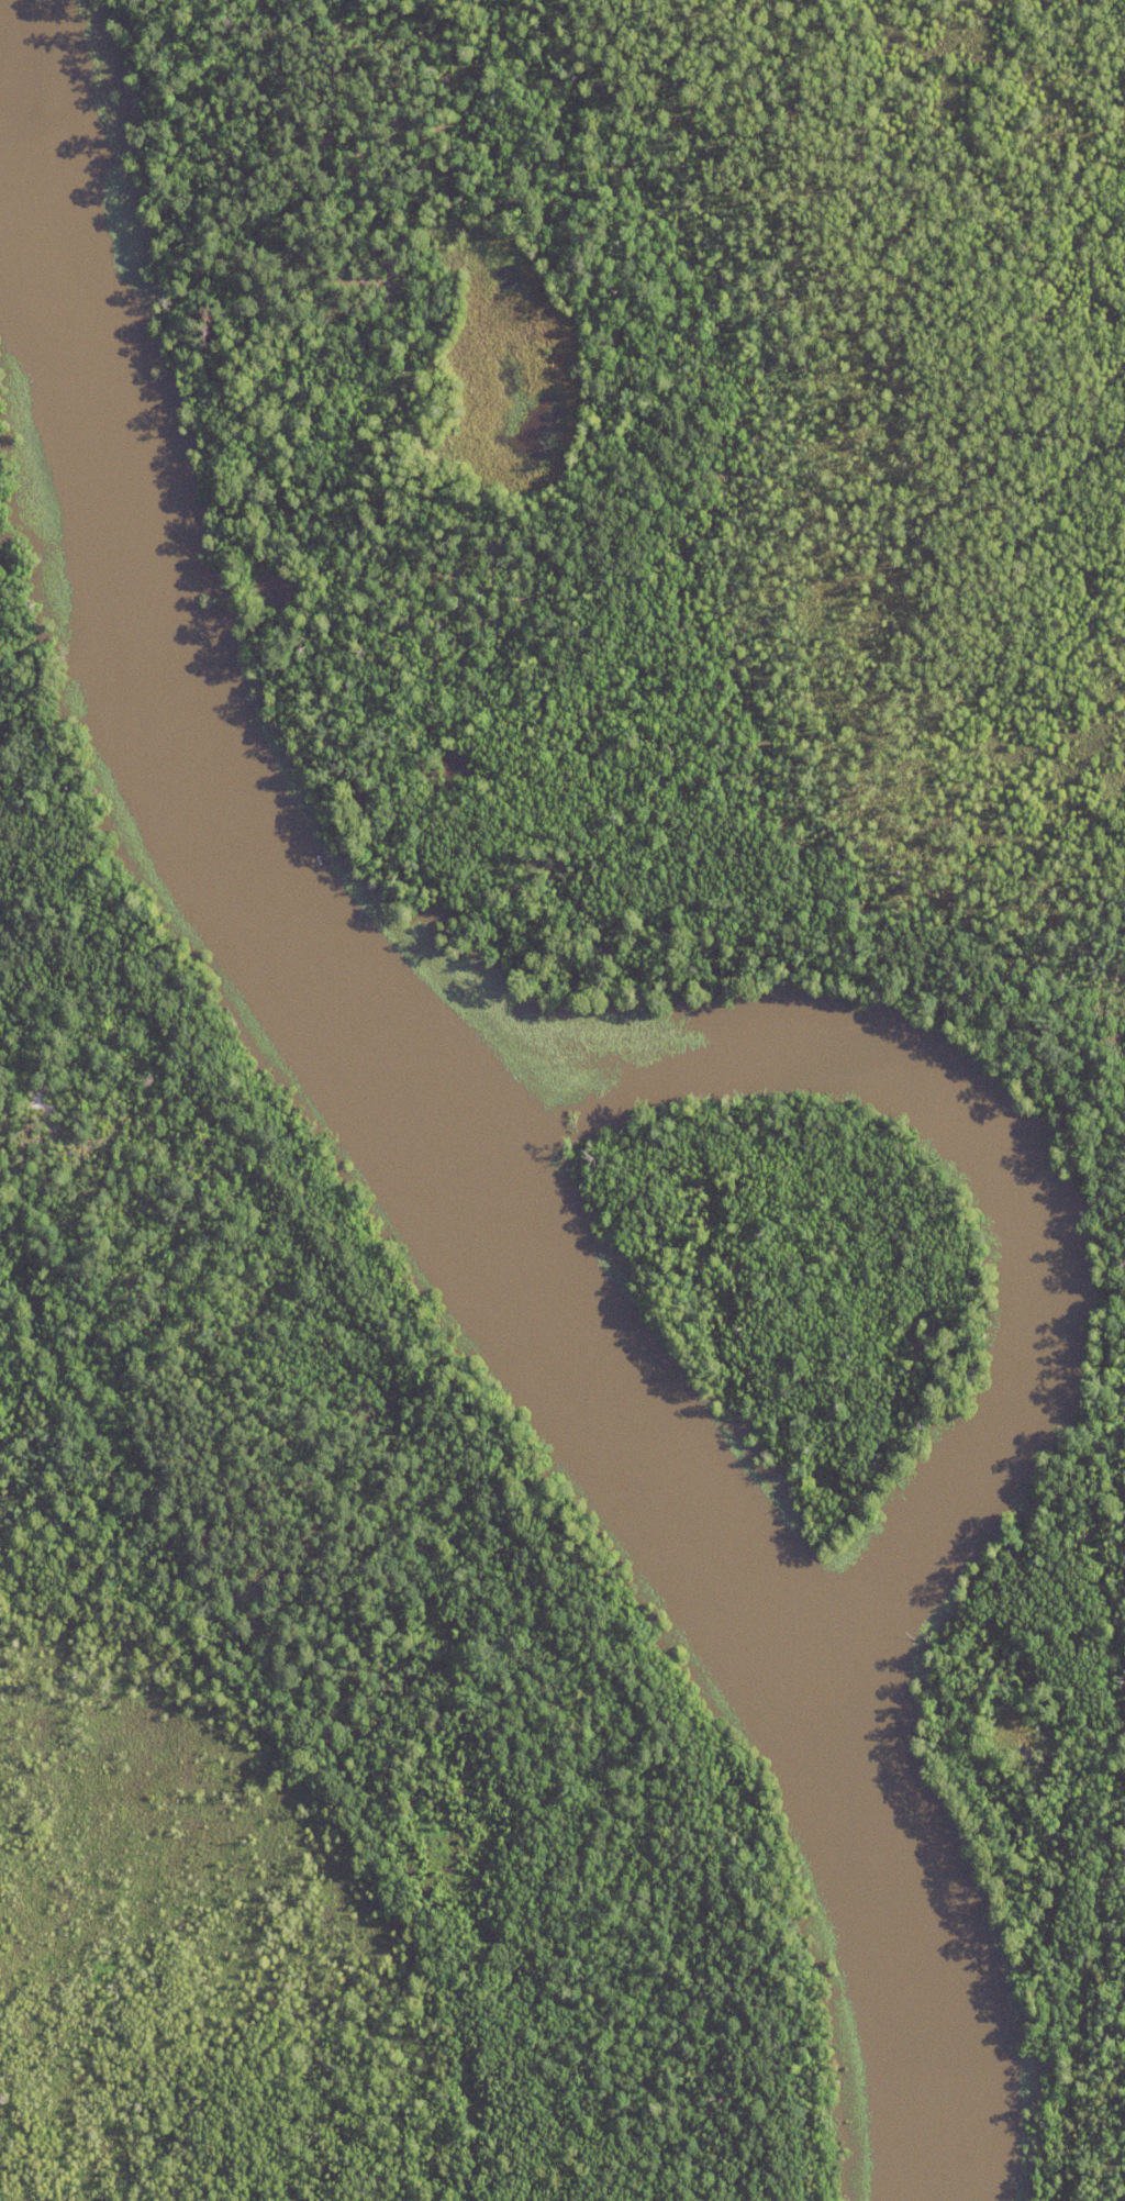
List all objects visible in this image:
river: (25, 229)
river: (488, 1222)

